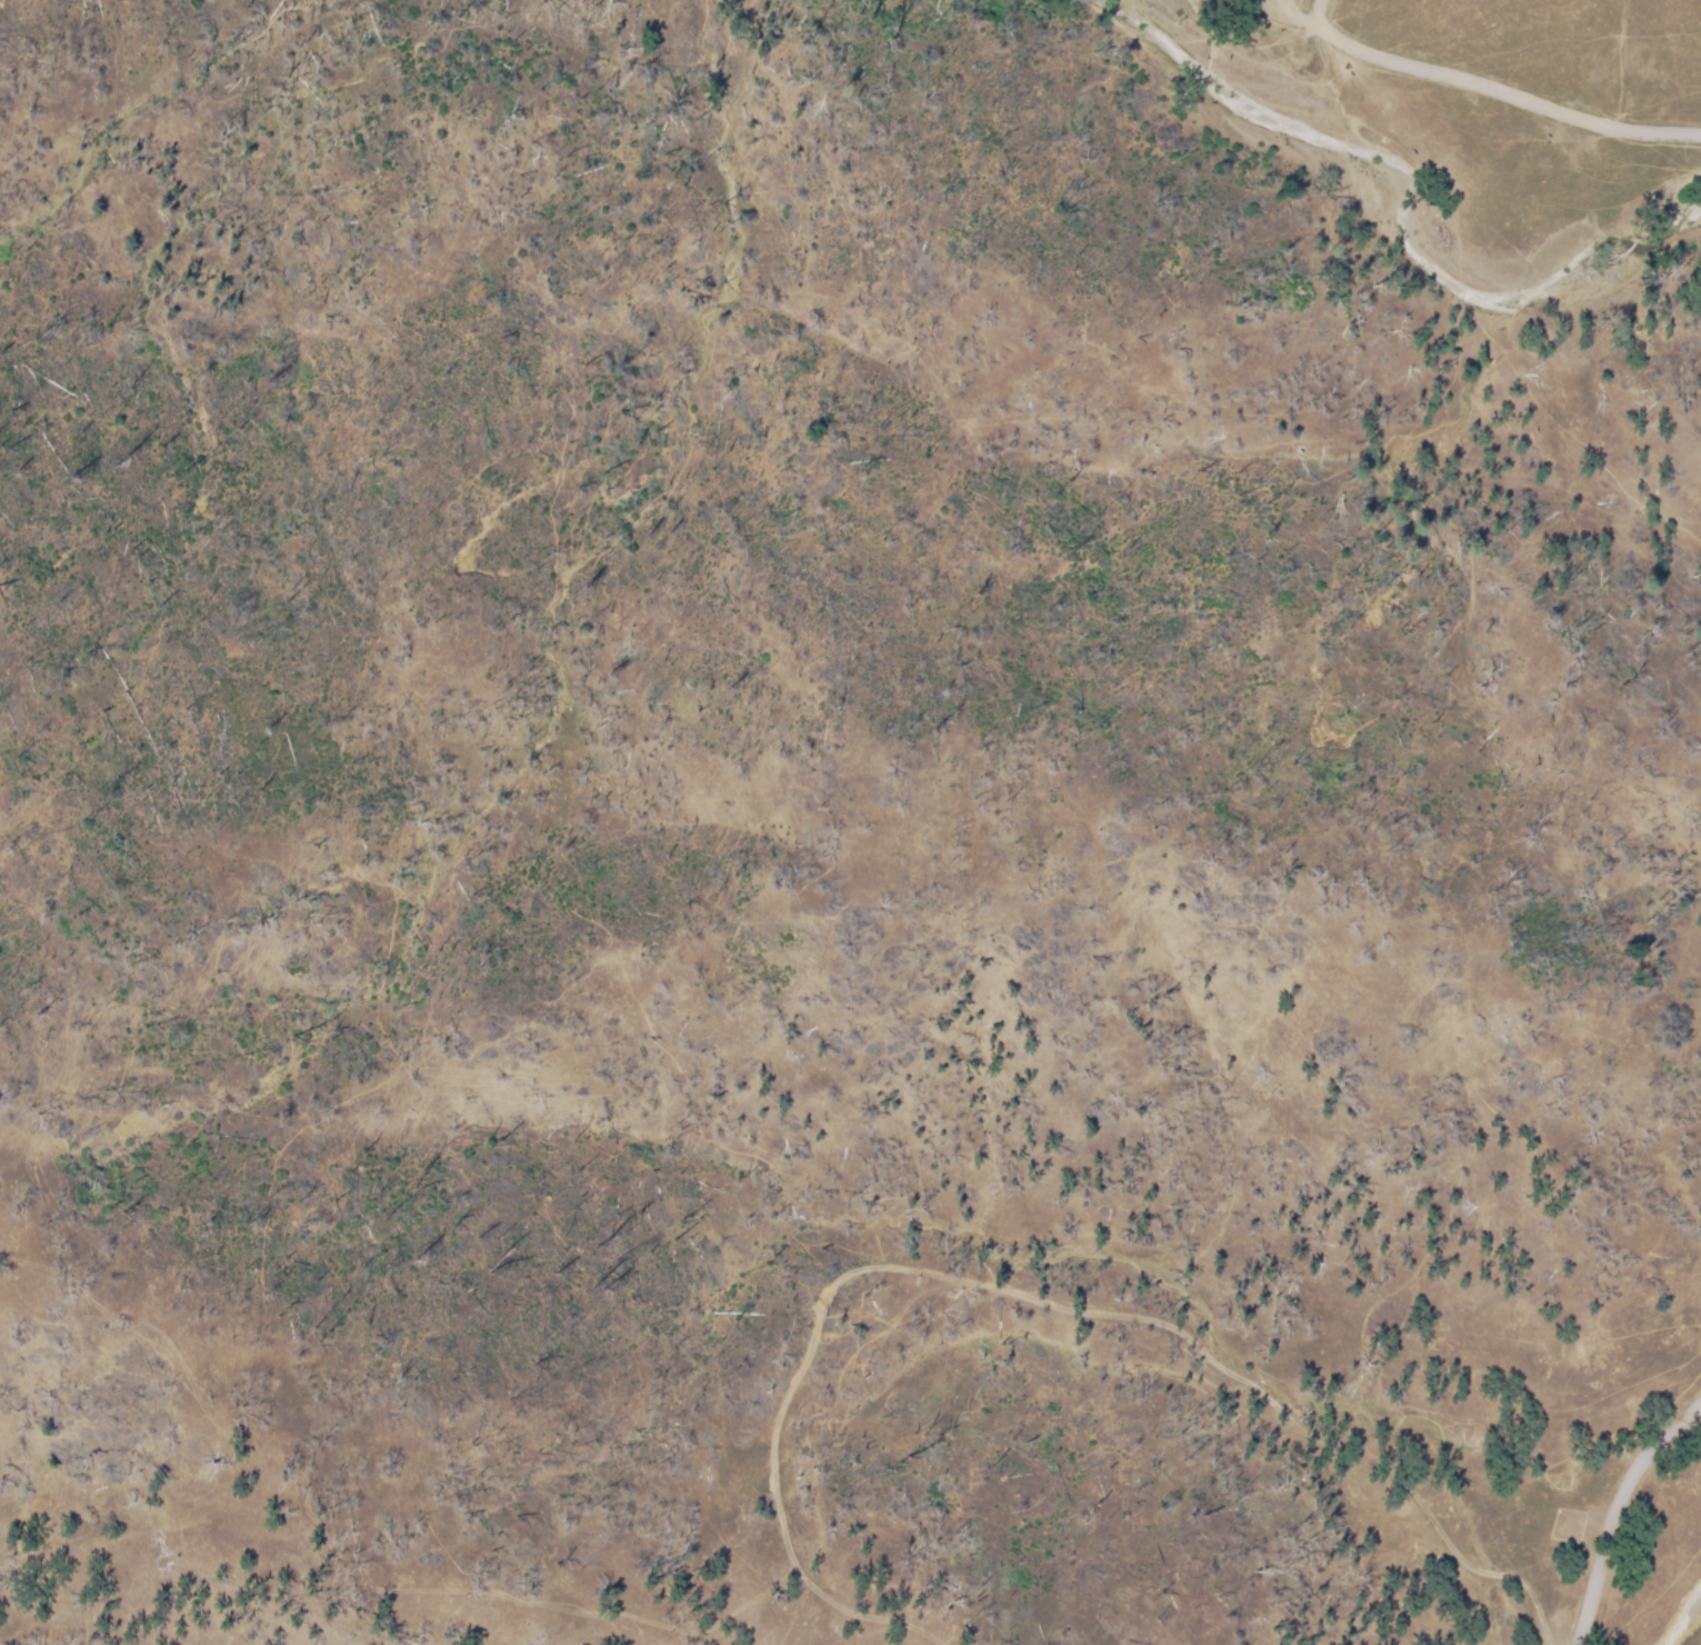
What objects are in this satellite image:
road: (1482, 87)
road: (1617, 1511)

